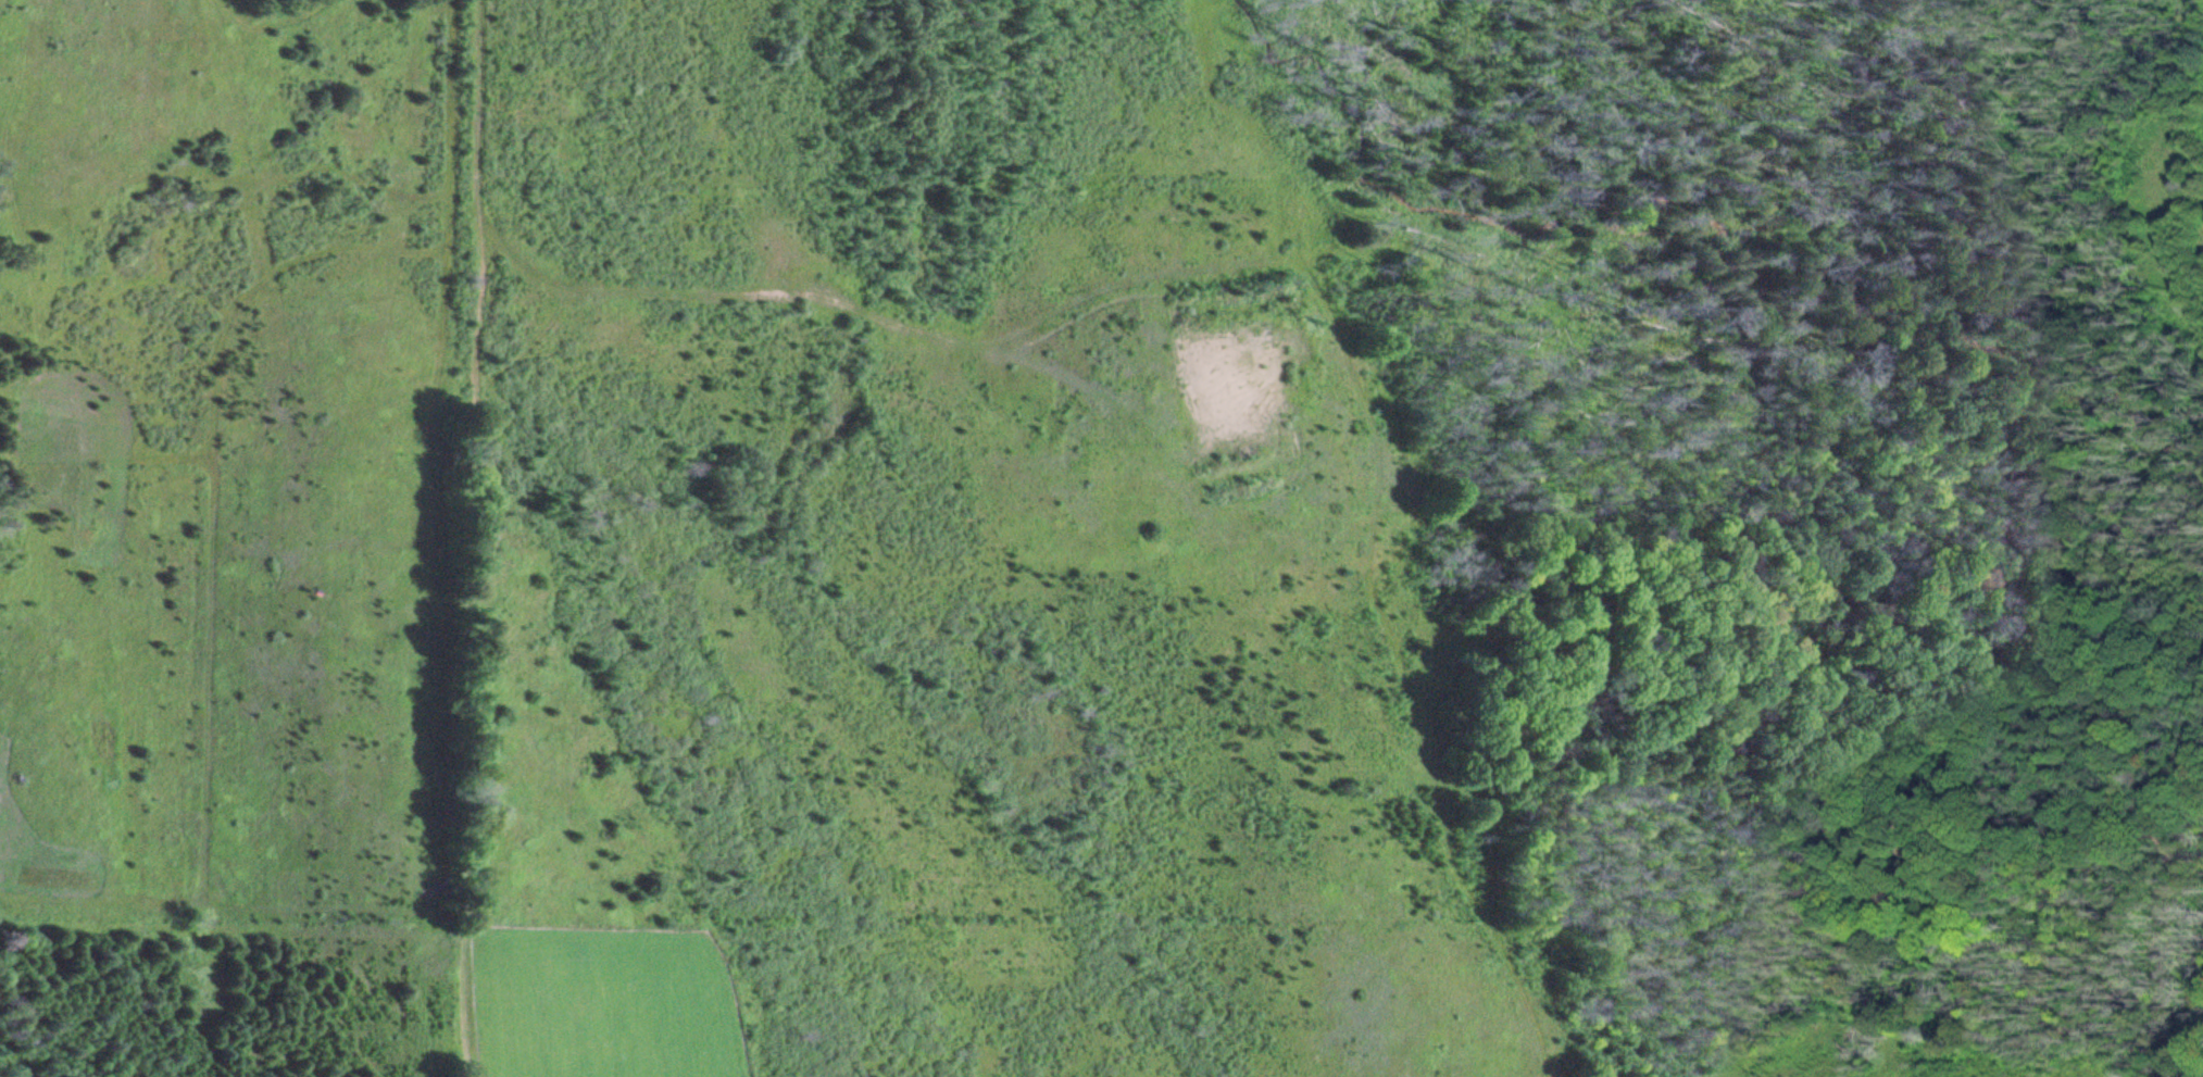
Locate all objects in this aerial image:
road: (555, 283)

